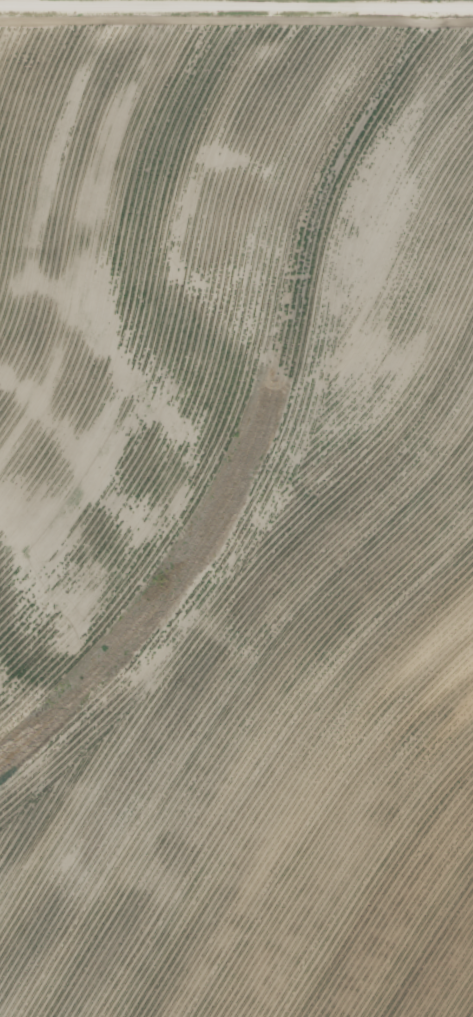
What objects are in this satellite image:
road: (236, 9)

